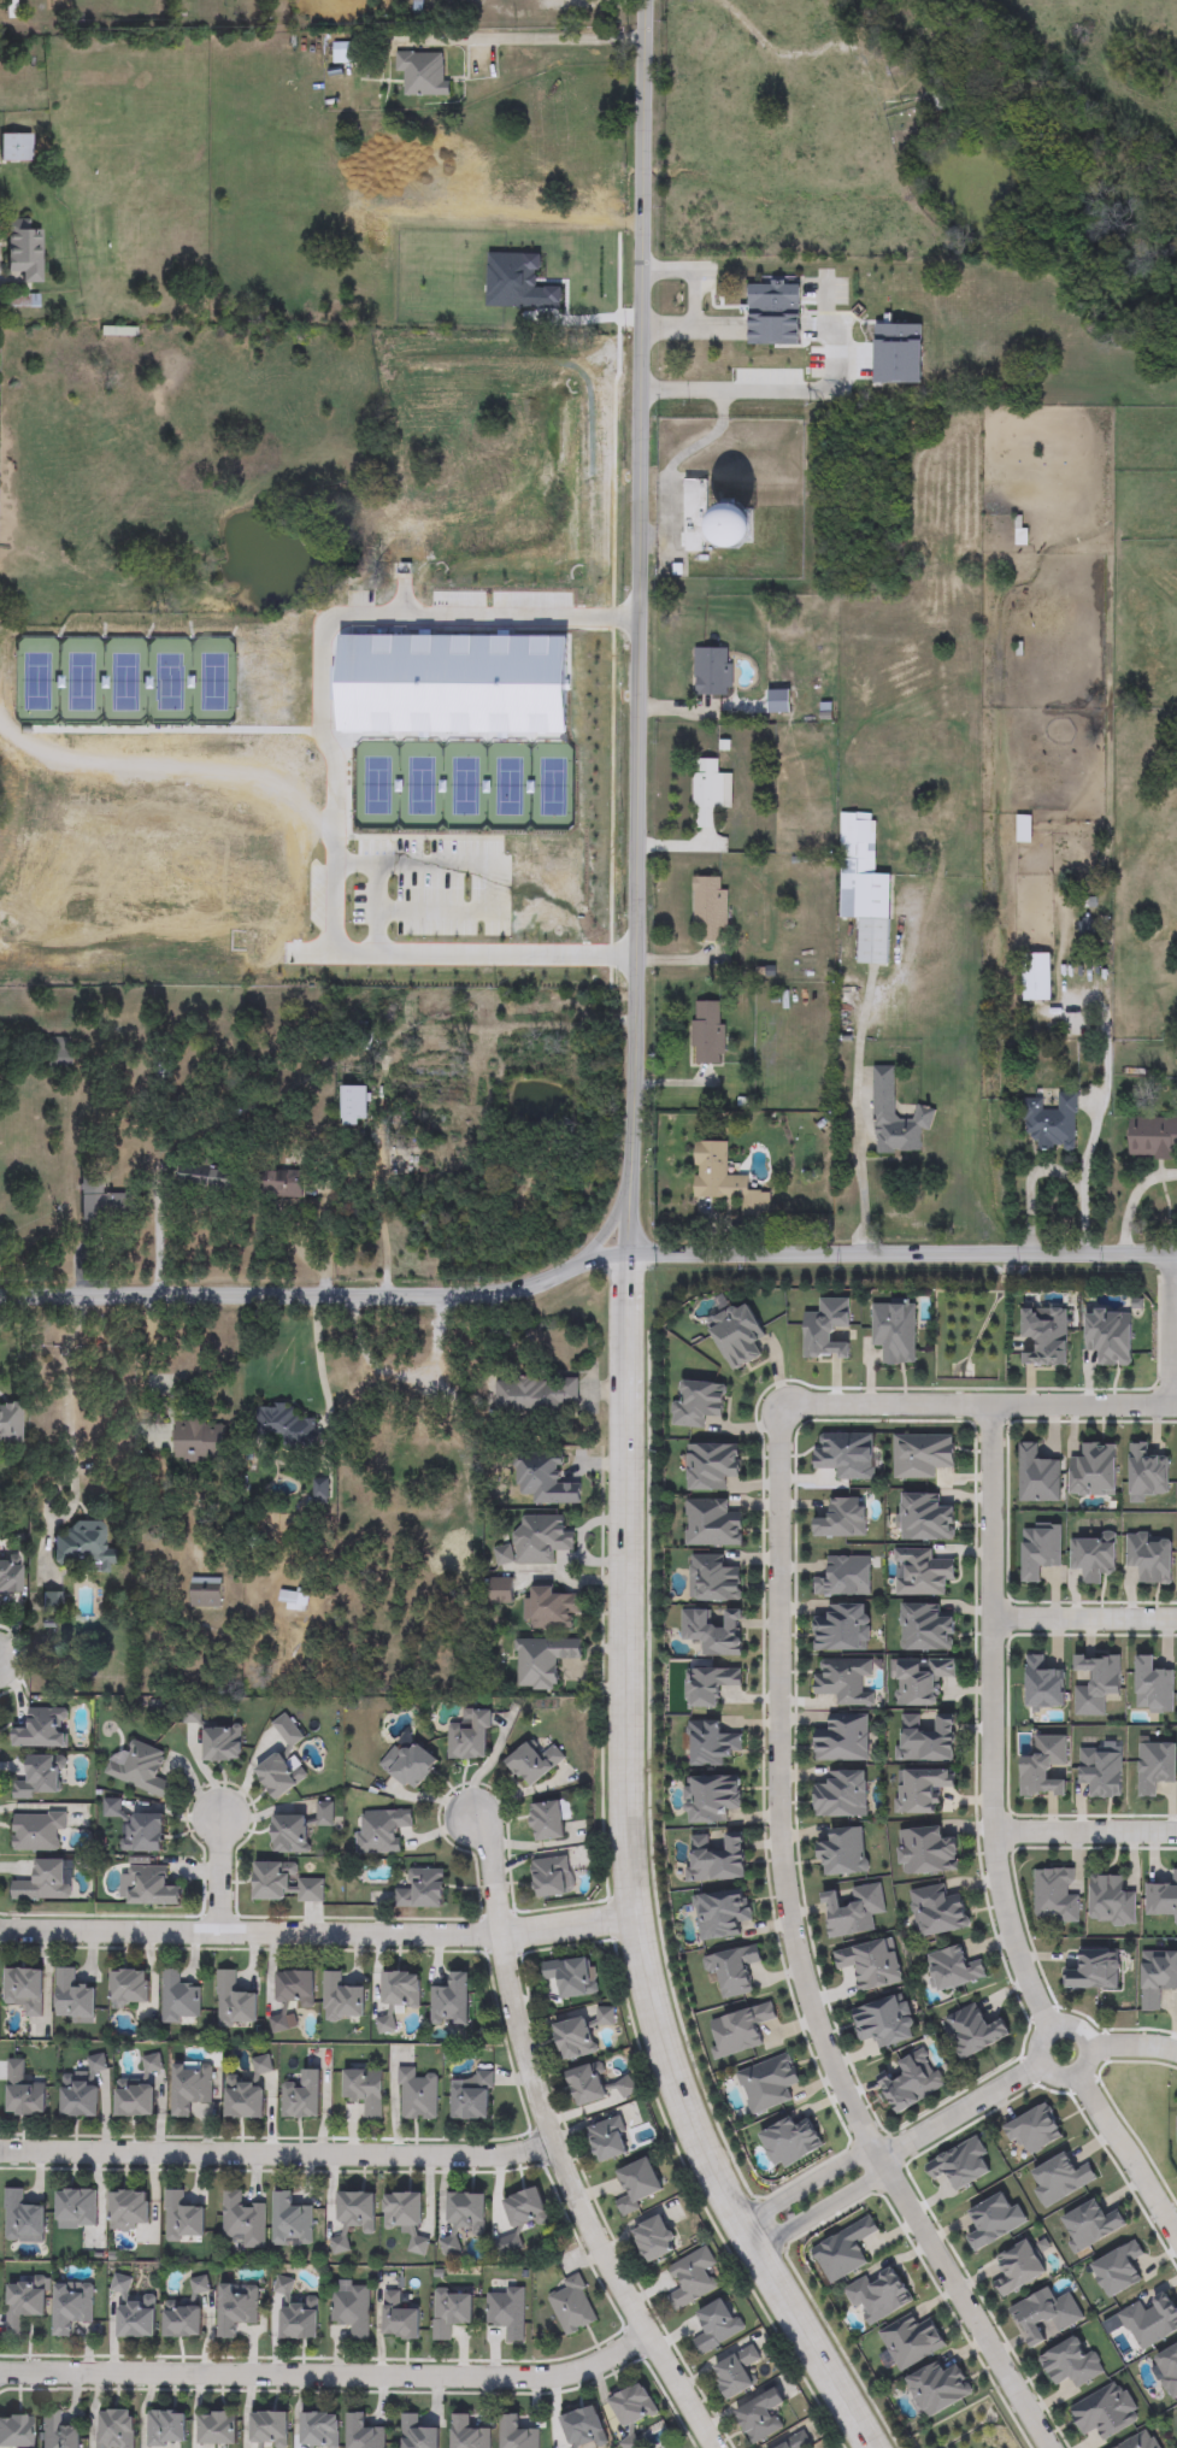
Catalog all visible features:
road: (522, 40)
building: (342, 51)
road: (772, 52)
building: (422, 72)
building: (16, 147)
building: (24, 251)
road: (689, 277)
building: (23, 300)
building: (775, 313)
road: (692, 326)
building: (117, 331)
road: (777, 392)
road: (672, 464)
building: (696, 516)
building: (735, 525)
building: (381, 598)
road: (642, 628)
building: (713, 671)
road: (161, 773)
road: (328, 778)
building: (710, 792)
building: (1024, 829)
road: (348, 866)
road: (414, 866)
building: (864, 888)
building: (710, 906)
building: (1085, 926)
building: (76, 970)
building: (381, 971)
building: (1036, 977)
building: (707, 1032)
building: (58, 1053)
building: (353, 1106)
building: (883, 1112)
building: (1051, 1122)
building: (1152, 1136)
road: (1081, 1176)
building: (205, 1178)
building: (724, 1179)
building: (279, 1185)
road: (1028, 1190)
road: (1128, 1199)
building: (101, 1202)
road: (382, 1230)
road: (605, 1230)
road: (155, 1240)
road: (585, 1264)
building: (894, 1330)
road: (1169, 1332)
building: (736, 1335)
building: (1108, 1335)
building: (1044, 1336)
road: (157, 1358)
road: (317, 1359)
road: (405, 1378)
building: (536, 1395)
building: (699, 1405)
road: (975, 1407)
road: (1172, 1407)
building: (11, 1423)
building: (283, 1425)
building: (200, 1441)
road: (71, 1442)
building: (416, 1455)
building: (847, 1455)
building: (922, 1455)
building: (712, 1466)
building: (1093, 1471)
building: (1146, 1472)
building: (1037, 1475)
building: (543, 1478)
building: (842, 1518)
building: (924, 1518)
building: (712, 1523)
building: (536, 1542)
building: (86, 1543)
building: (1041, 1550)
building: (1093, 1555)
building: (1149, 1557)
building: (920, 1572)
building: (10, 1575)
building: (846, 1576)
building: (713, 1578)
building: (500, 1591)
building: (206, 1593)
building: (53, 1600)
building: (293, 1600)
building: (549, 1607)
road: (1083, 1623)
building: (843, 1628)
building: (925, 1628)
building: (714, 1632)
building: (542, 1661)
building: (845, 1681)
building: (922, 1681)
building: (707, 1685)
building: (1043, 1685)
building: (1153, 1688)
road: (990, 1723)
building: (41, 1728)
building: (287, 1730)
building: (470, 1737)
building: (843, 1738)
building: (925, 1738)
building: (222, 1743)
building: (710, 1744)
building: (534, 1761)
building: (408, 1763)
building: (1043, 1767)
building: (141, 1770)
building: (1101, 1771)
building: (278, 1776)
building: (41, 1777)
building: (920, 1789)
building: (842, 1794)
building: (711, 1799)
building: (113, 1809)
building: (323, 1813)
building: (549, 1820)
building: (37, 1830)
building: (379, 1830)
building: (143, 1834)
building: (290, 1834)
road: (1083, 1834)
building: (925, 1852)
building: (842, 1853)
building: (716, 1859)
road: (492, 1873)
road: (218, 1876)
building: (551, 1876)
road: (626, 1879)
building: (45, 1882)
building: (284, 1884)
building: (149, 1887)
building: (422, 1889)
building: (1054, 1895)
building: (1163, 1896)
building: (1111, 1901)
building: (853, 1909)
building: (937, 1911)
building: (722, 1913)
road: (316, 1935)
road: (796, 1961)
building: (870, 1964)
building: (953, 1969)
building: (735, 1970)
building: (1094, 1970)
building: (572, 1977)
building: (129, 1988)
building: (25, 1989)
building: (401, 1989)
building: (73, 1994)
building: (292, 1997)
building: (342, 1999)
building: (180, 2000)
building: (451, 2000)
building: (234, 2002)
building: (884, 2022)
building: (386, 2023)
building: (740, 2029)
building: (973, 2030)
building: (575, 2038)
road: (1084, 2040)
road: (1131, 2048)
building: (151, 2062)
building: (261, 2065)
building: (912, 2081)
building: (767, 2083)
building: (596, 2084)
building: (190, 2088)
building: (23, 2091)
building: (364, 2091)
building: (416, 2094)
building: (78, 2095)
building: (302, 2095)
building: (472, 2097)
building: (134, 2099)
building: (242, 2099)
road: (958, 2113)
building: (1034, 2129)
building: (608, 2140)
road: (277, 2154)
road: (1126, 2158)
building: (1061, 2179)
road: (805, 2184)
building: (637, 2185)
road: (575, 2203)
building: (526, 2207)
building: (76, 2208)
building: (357, 2209)
building: (466, 2209)
building: (129, 2211)
road: (819, 2211)
building: (23, 2218)
building: (405, 2218)
building: (183, 2219)
building: (994, 2219)
building: (243, 2220)
building: (292, 2220)
building: (1089, 2225)
building: (655, 2240)
building: (508, 2244)
building: (340, 2246)
building: (451, 2246)
building: (845, 2250)
building: (1018, 2267)
building: (692, 2278)
building: (120, 2284)
building: (198, 2285)
building: (283, 2287)
building: (877, 2296)
building: (27, 2302)
building: (572, 2305)
building: (71, 2307)
building: (236, 2307)
building: (351, 2307)
building: (451, 2312)
building: (506, 2312)
building: (1044, 2314)
building: (136, 2318)
building: (399, 2318)
building: (181, 2319)
building: (300, 2319)
building: (716, 2325)
building: (911, 2340)
building: (1071, 2364)
building: (1166, 2371)
building: (736, 2372)
road: (329, 2376)
building: (938, 2388)
building: (632, 2406)
building: (1105, 2411)
building: (761, 2415)
building: (217, 2428)
building: (584, 2428)
building: (114, 2429)
building: (165, 2429)
building: (16, 2430)
building: (269, 2430)
building: (320, 2430)
building: (58, 2431)
building: (364, 2432)
building: (418, 2434)
building: (469, 2434)
building: (517, 2434)
building: (1140, 2441)
building: (630, 2442)
building: (796, 2442)

